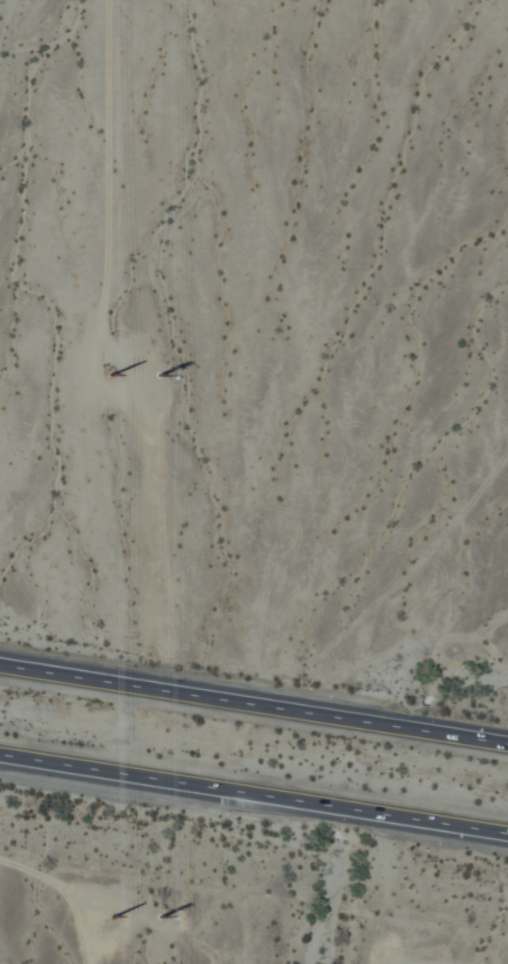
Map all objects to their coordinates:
road: (254, 698)
road: (254, 796)

